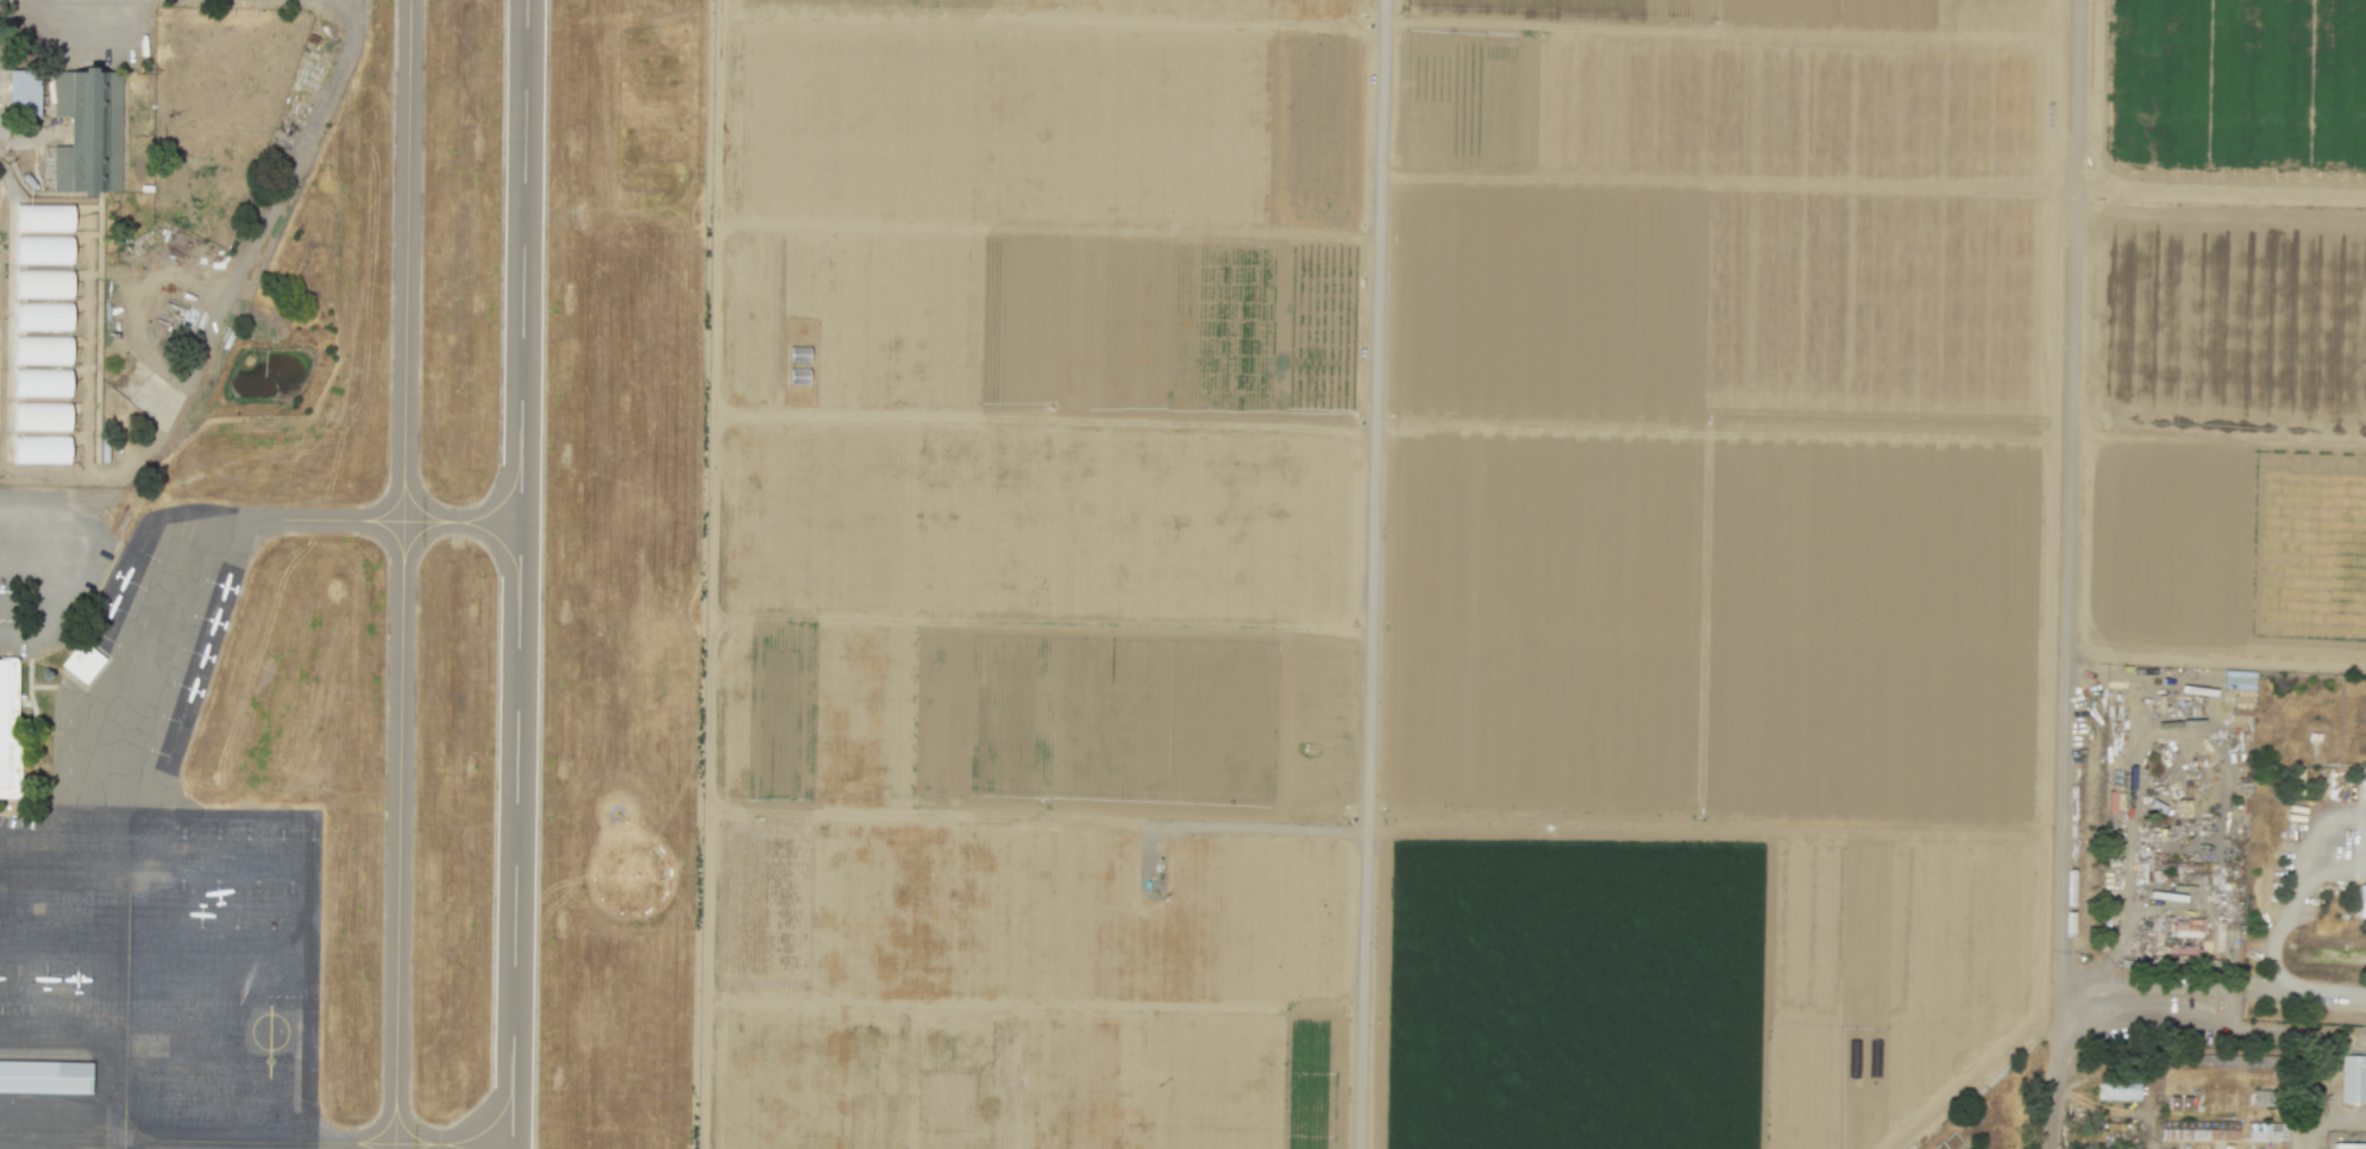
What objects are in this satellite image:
building: (23, 92)
building: (92, 131)
road: (2218, 187)
building: (43, 218)
building: (42, 249)
building: (42, 283)
road: (225, 293)
building: (42, 316)
building: (42, 350)
building: (40, 382)
building: (40, 415)
building: (39, 448)
road: (51, 495)
road: (713, 506)
airport taxiway: (390, 519)
parking lot: (45, 570)
airport runway: (517, 573)
road: (1368, 573)
airport taxiway: (401, 574)
road: (2067, 574)
airport: (390, 642)
building: (81, 661)
building: (2239, 679)
building: (7, 727)
building: (2364, 785)
road: (1237, 827)
airport apron: (159, 886)
building: (2361, 900)
building: (2186, 928)
road: (2277, 969)
road: (2227, 1005)
airport taxiway: (125, 1019)
helipad: (269, 1030)
road: (2310, 1049)
building: (44, 1075)
road: (1972, 1079)
building: (2354, 1080)
building: (2117, 1091)
building: (2179, 1101)
building: (2261, 1132)
airport taxiway: (316, 1141)
building: (2227, 1145)
building: (2347, 1145)
building: (2110, 1148)

